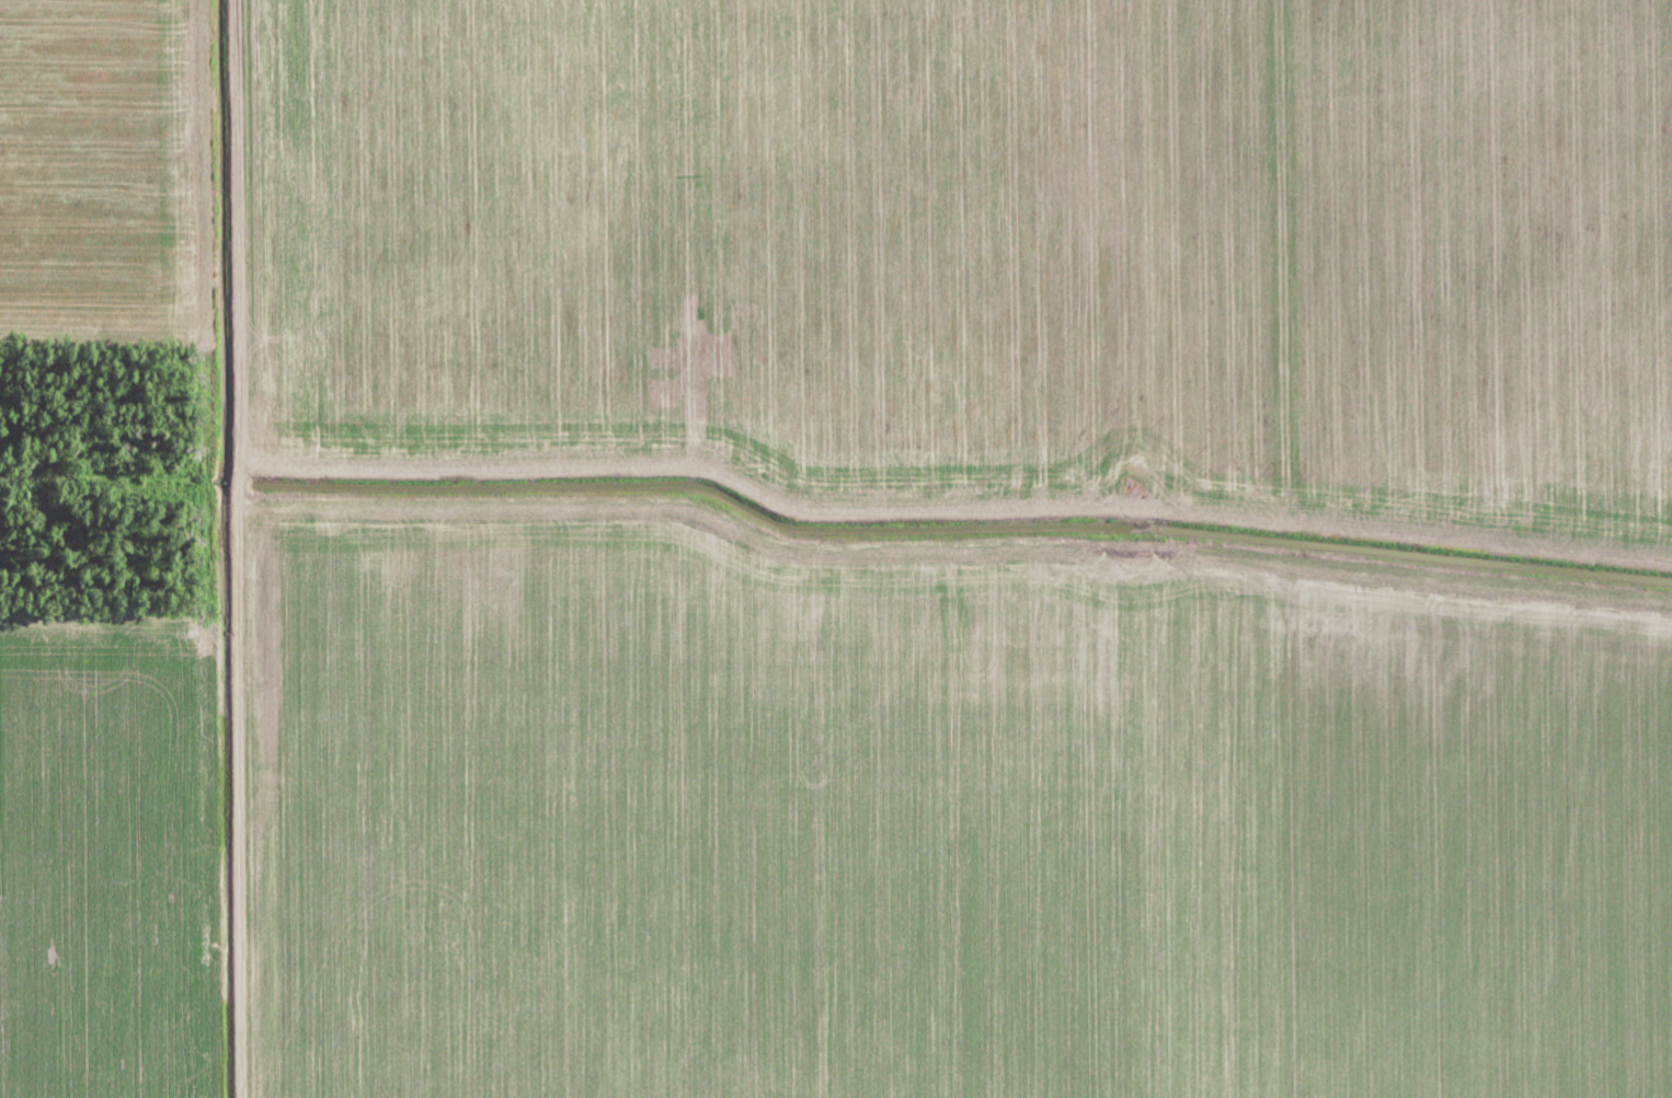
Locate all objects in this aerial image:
road: (239, 805)

